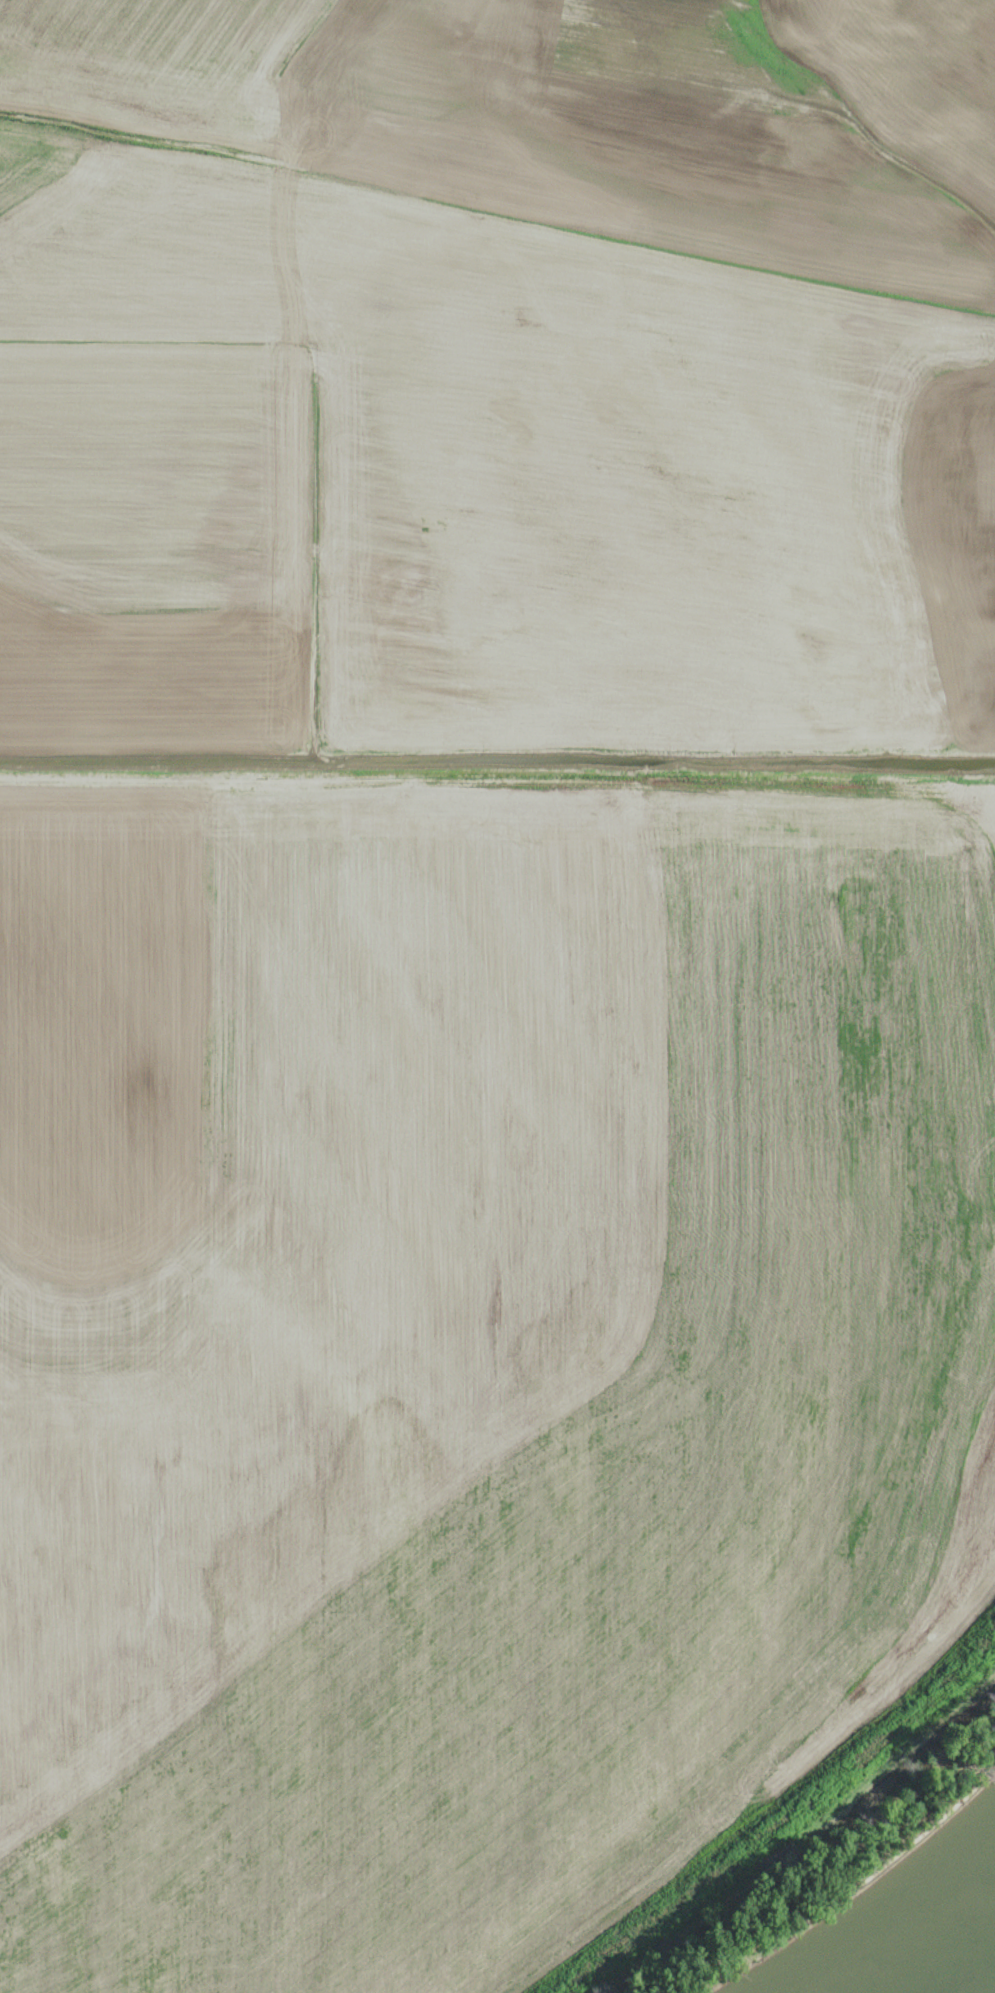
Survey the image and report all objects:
river: (984, 1984)

